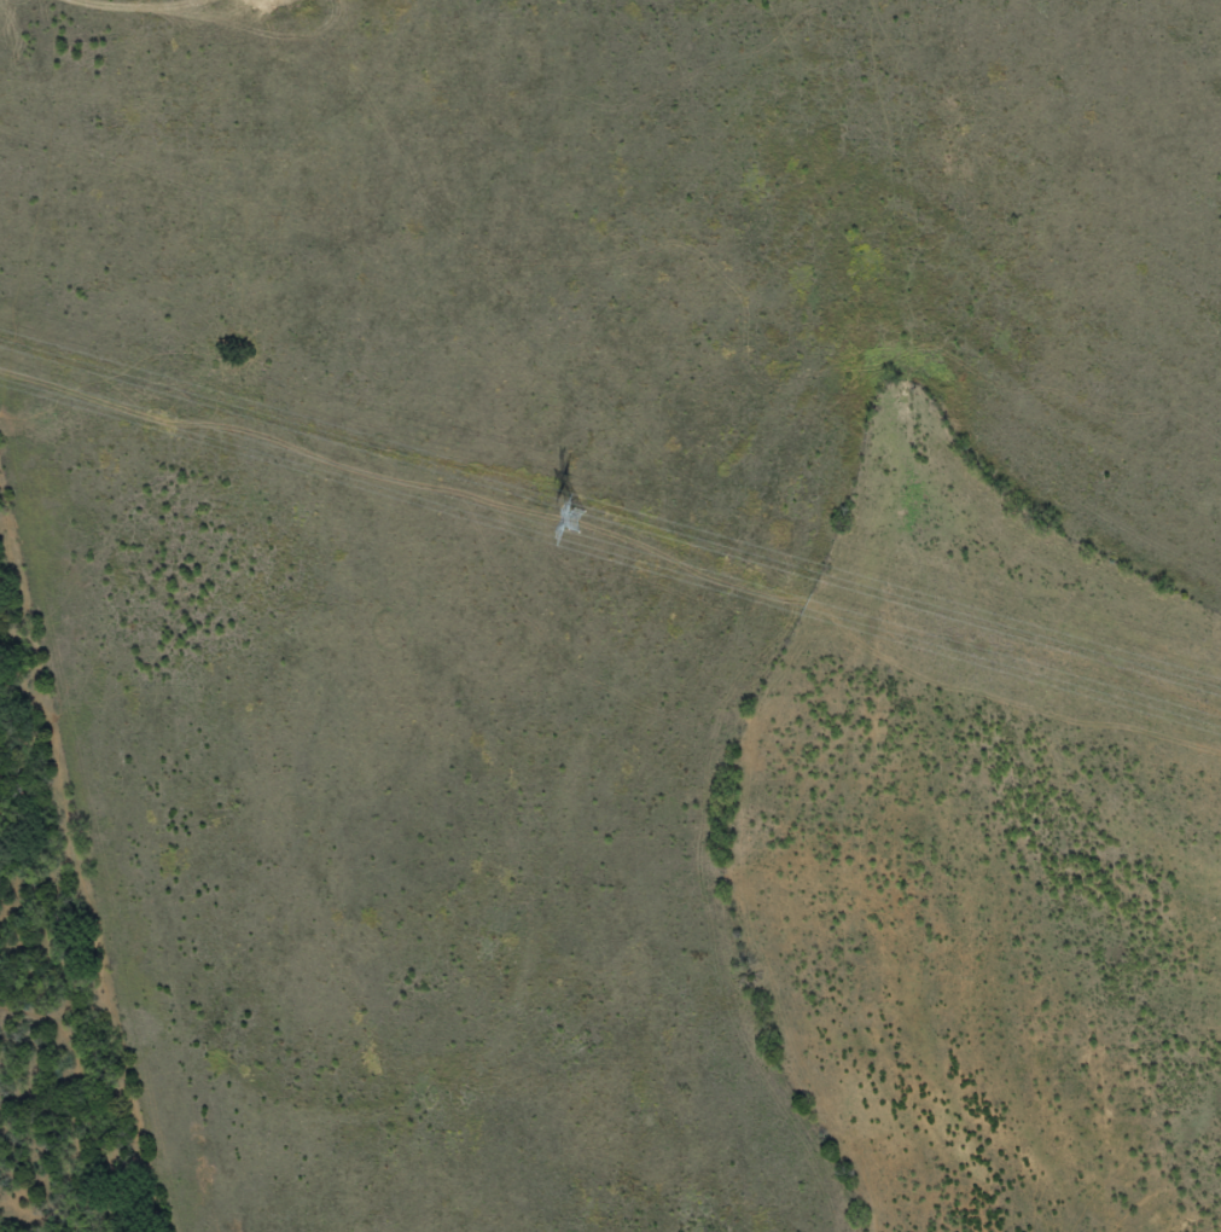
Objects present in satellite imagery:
power tower: (572, 516)

